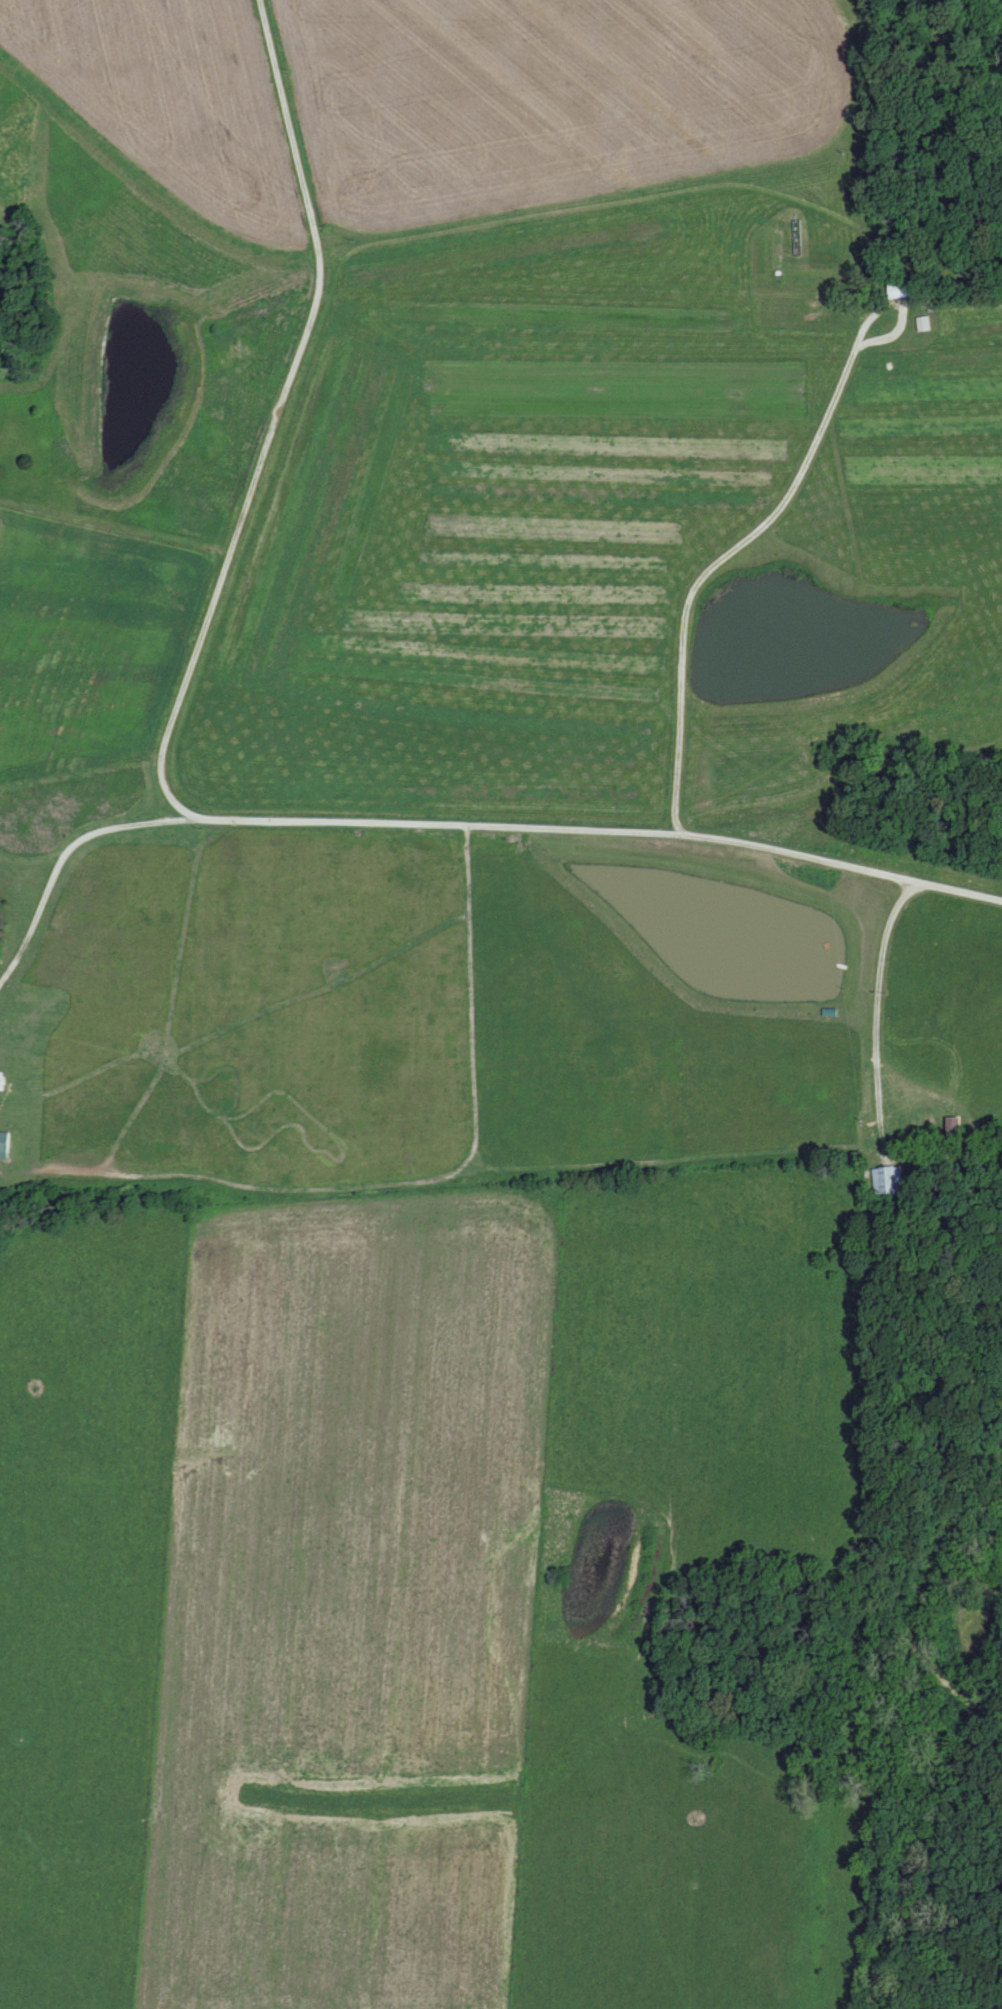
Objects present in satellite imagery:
building: (898, 291)
road: (723, 563)
road: (176, 803)
road: (62, 864)
road: (869, 1015)
building: (7, 1146)
building: (889, 1182)

